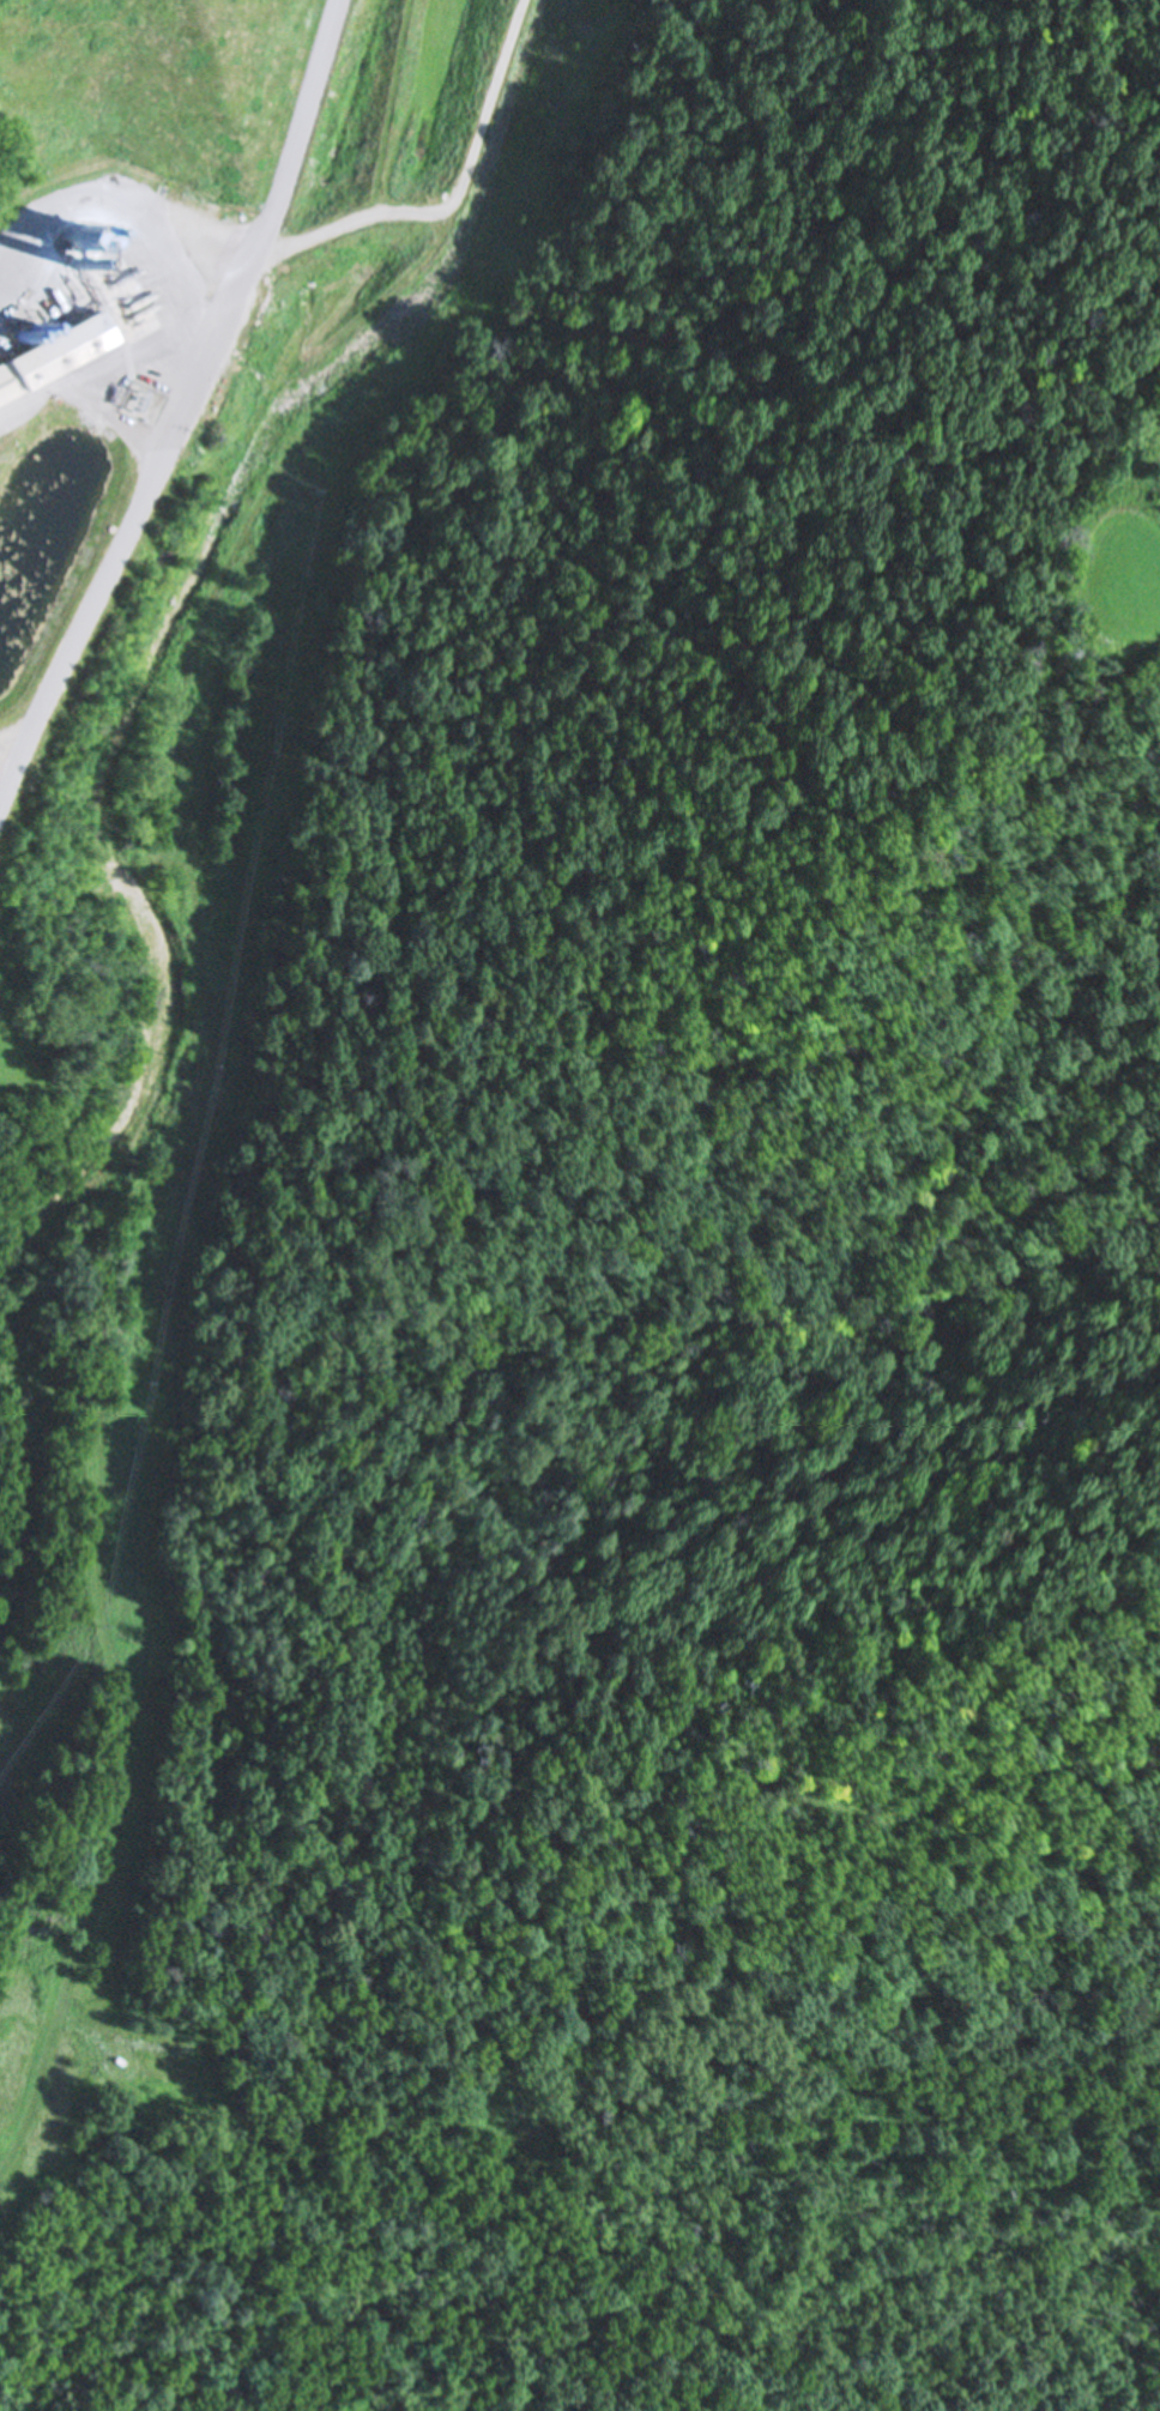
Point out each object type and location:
road: (81, 237)
building: (66, 350)
power substation: (145, 401)
power tower: (219, 423)
power tower: (307, 472)
power tower: (259, 751)
road: (12, 999)
power tower: (200, 1063)
power tower: (143, 1380)
power tower: (95, 1624)

